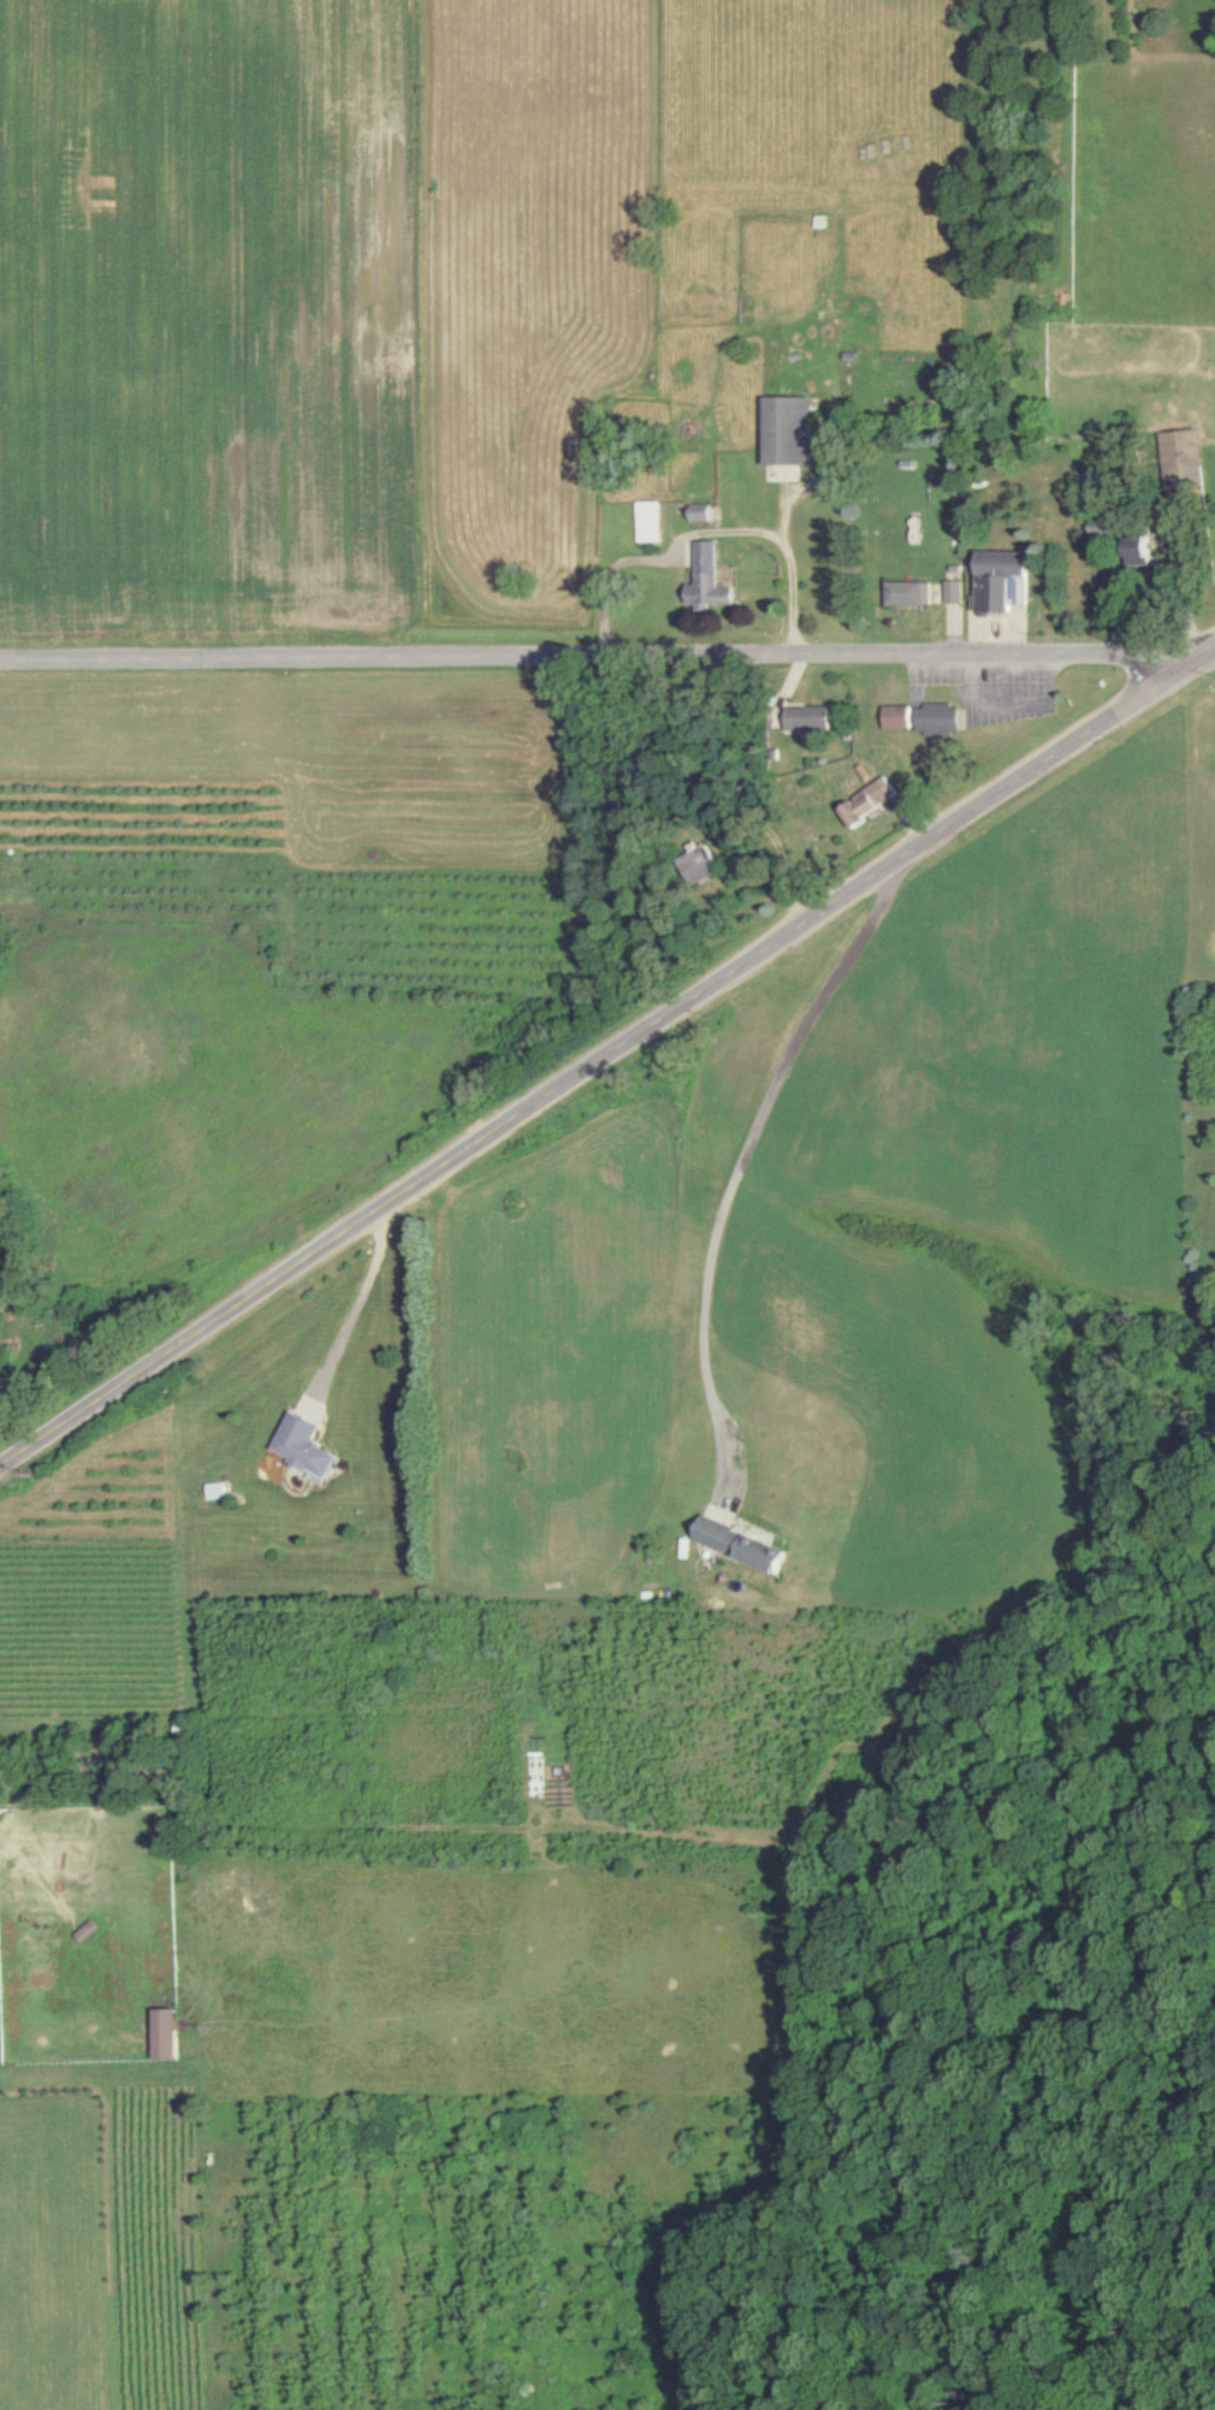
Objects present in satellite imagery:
building: (792, 431)
building: (1183, 458)
building: (706, 513)
building: (653, 521)
road: (707, 532)
building: (1140, 551)
building: (712, 579)
building: (1000, 581)
building: (953, 592)
building: (908, 593)
road: (606, 661)
building: (899, 717)
building: (811, 718)
building: (940, 720)
building: (870, 803)
building: (704, 864)
road: (607, 1061)
road: (739, 1160)
road: (356, 1309)
building: (307, 1445)
building: (745, 1546)
building: (87, 1931)
building: (165, 2035)

